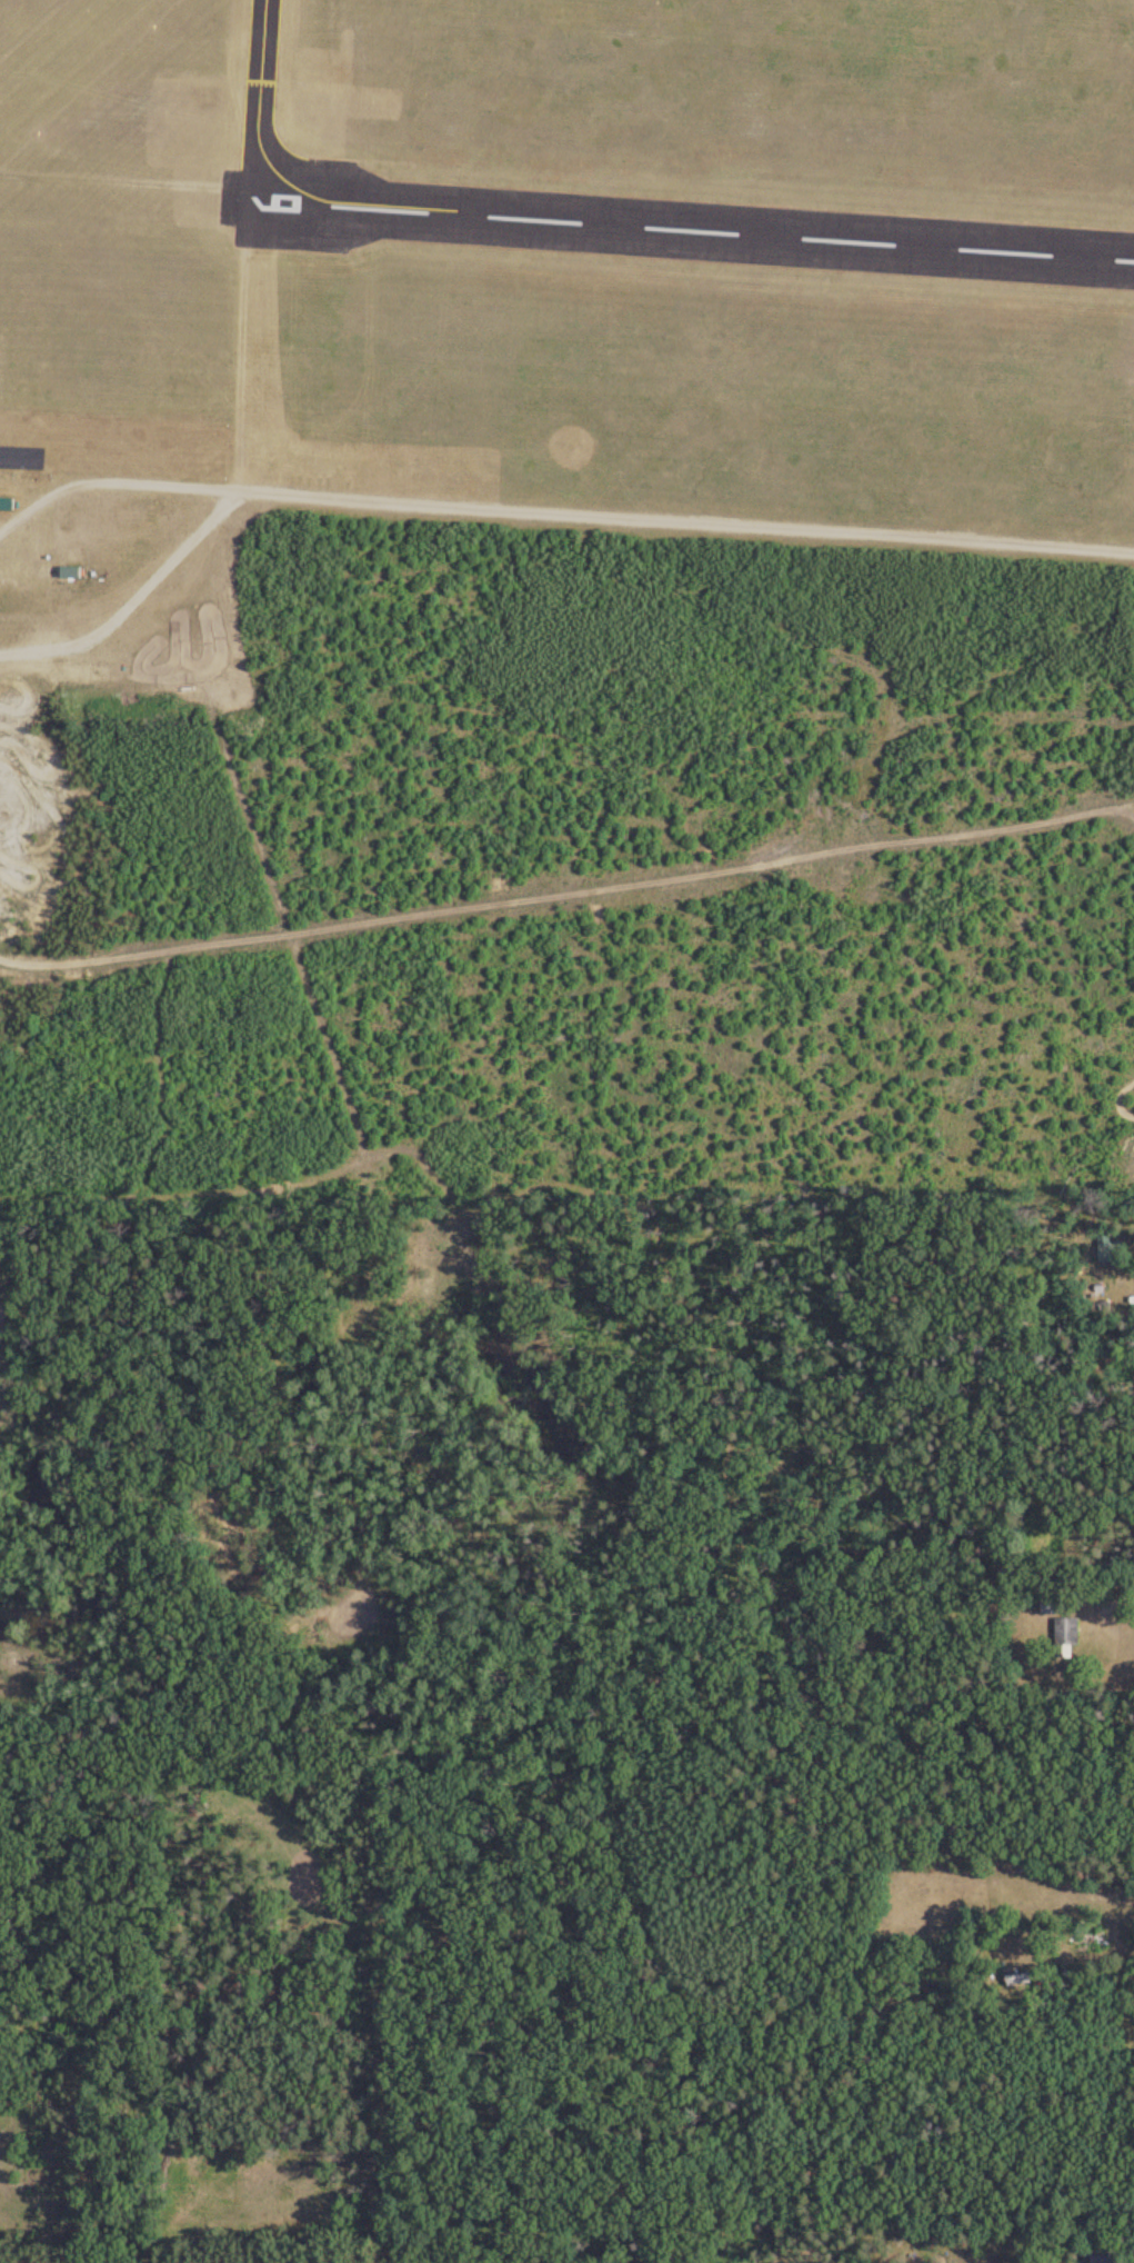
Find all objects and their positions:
airport runway: (61, 57)
airport taxiway: (262, 124)
airport runway: (681, 232)
airport: (569, 273)
road: (568, 876)
building: (1066, 1636)

